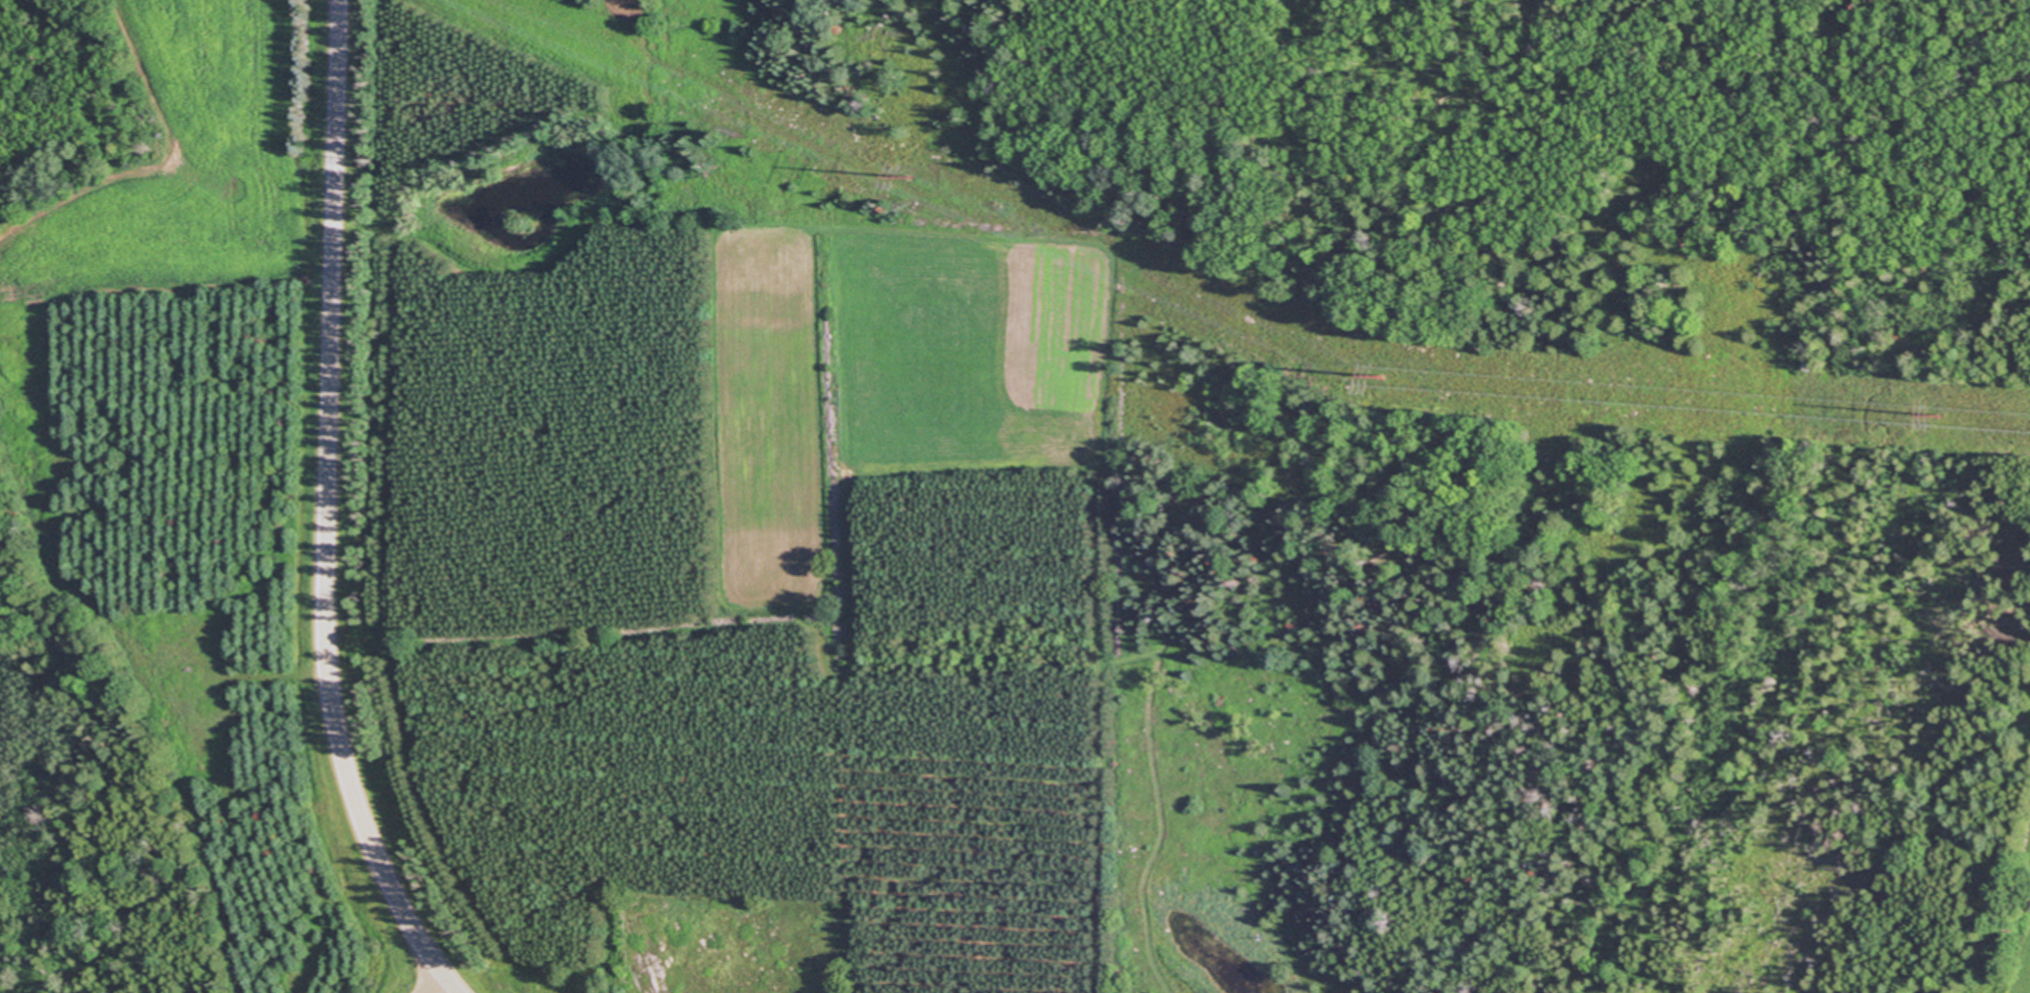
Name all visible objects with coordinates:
power tower: (909, 175)
power tower: (1383, 376)
power tower: (1939, 414)
road: (327, 503)
building: (2016, 984)
road: (436, 988)
road: (447, 988)

